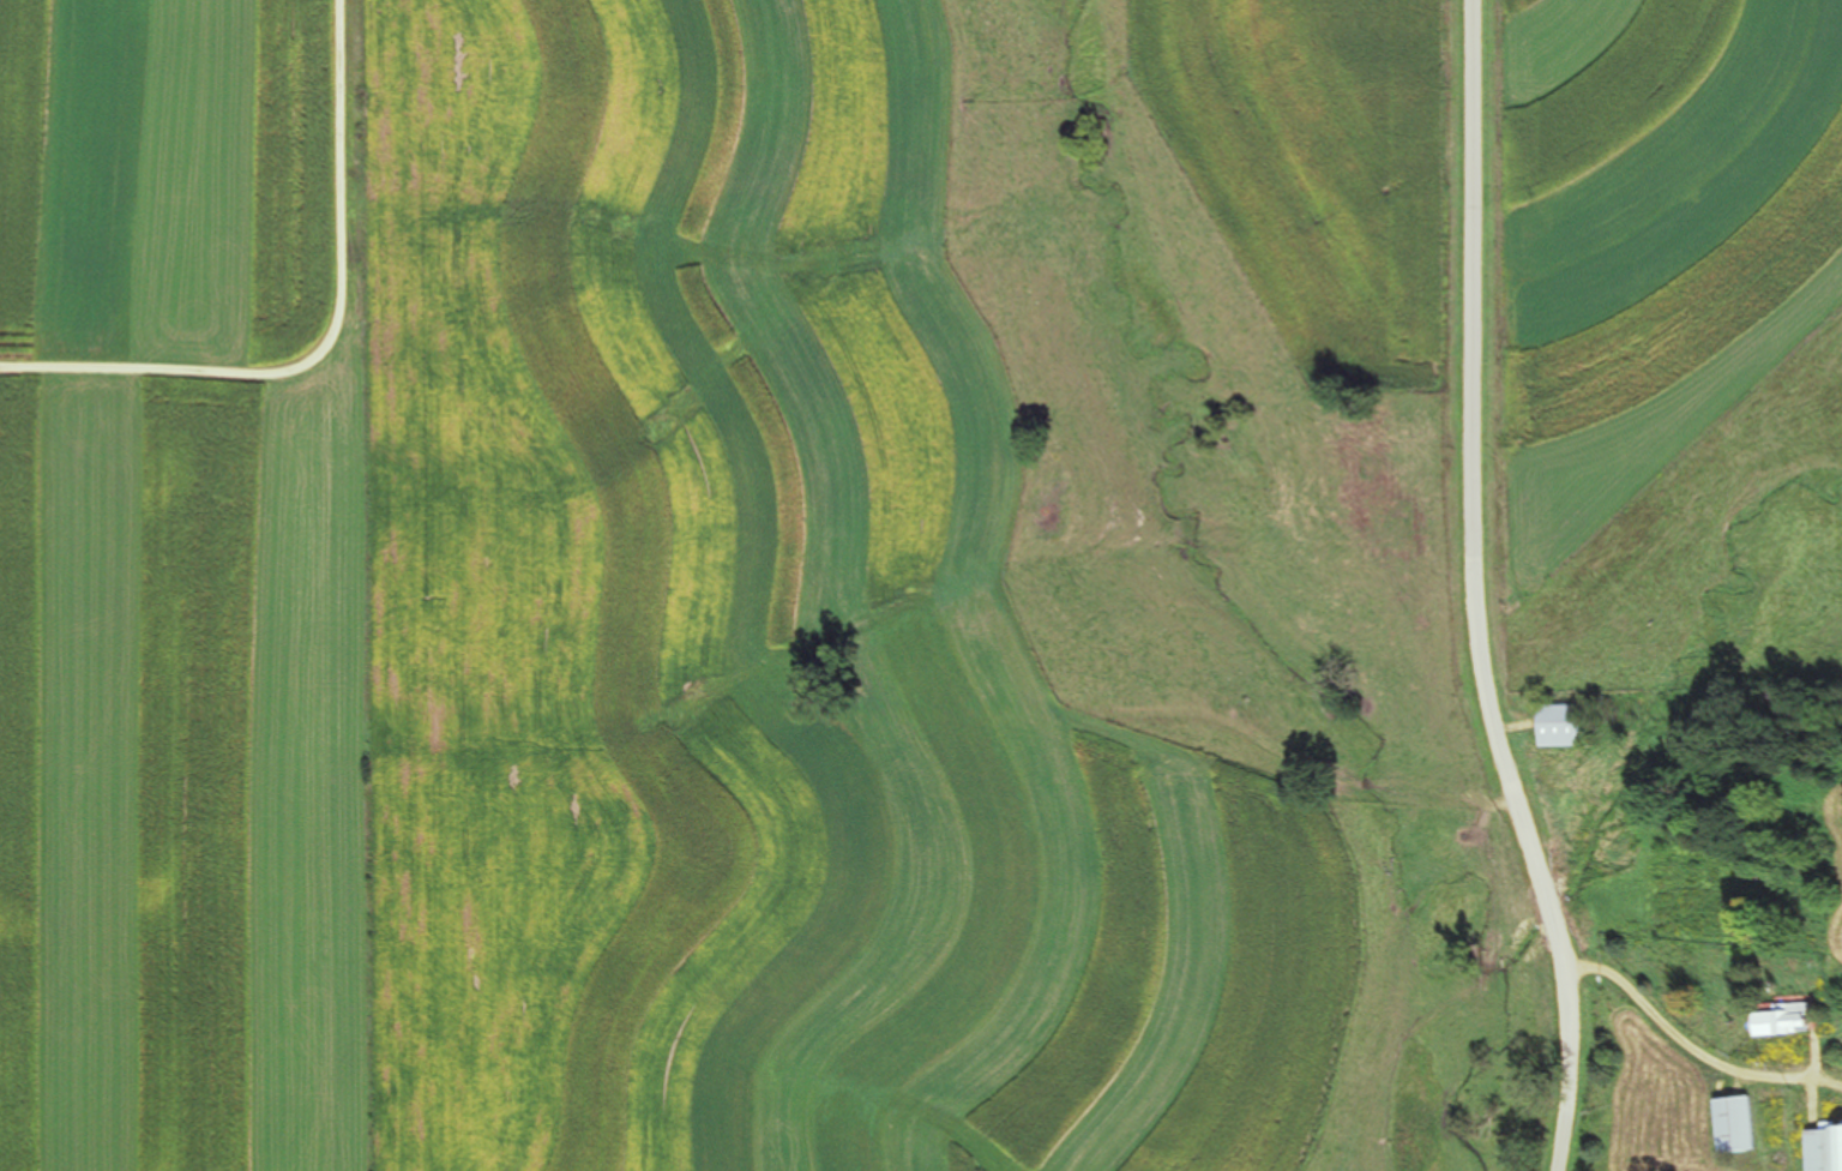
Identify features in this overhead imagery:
road: (333, 343)
road: (1482, 590)
building: (1565, 726)
building: (1788, 1020)
road: (1694, 1047)
building: (1740, 1124)
building: (1825, 1149)

